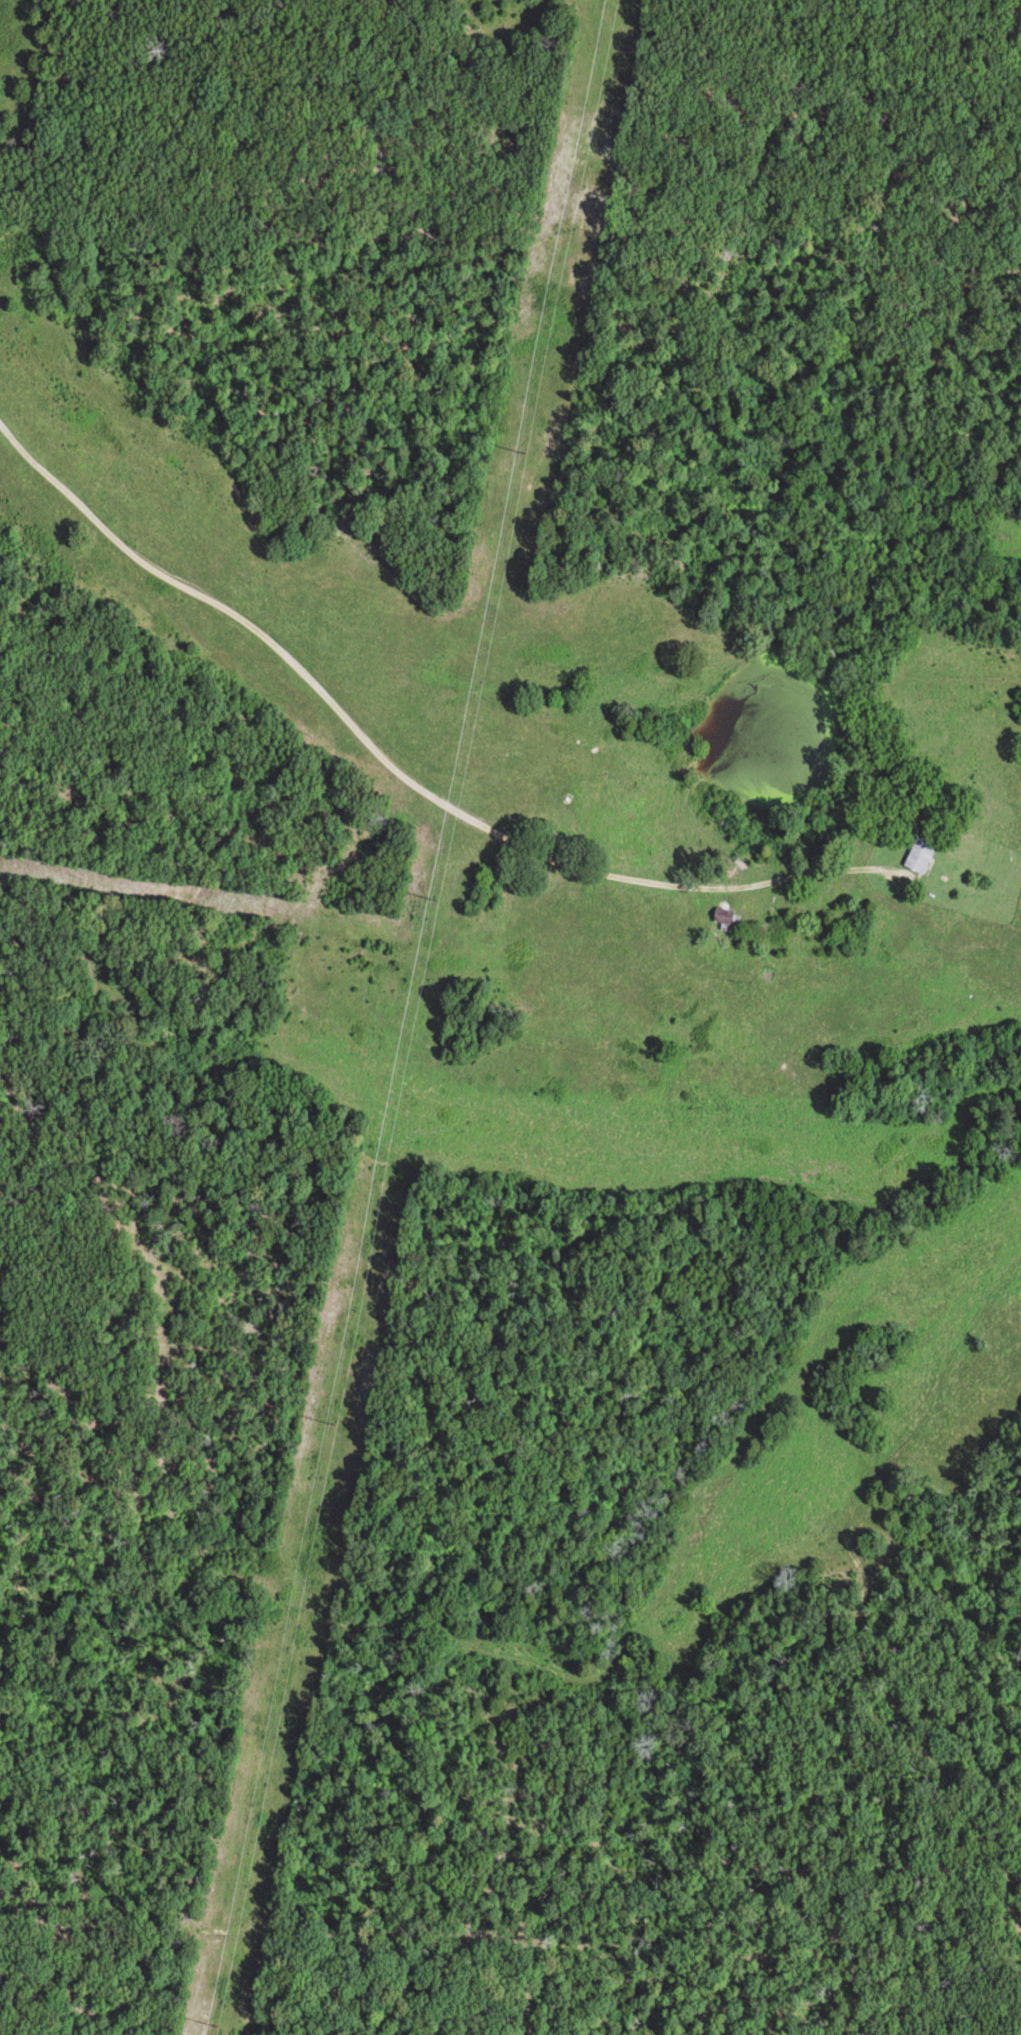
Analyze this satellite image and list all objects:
power tower: (524, 454)
road: (437, 764)
building: (925, 855)
power tower: (434, 905)
power tower: (333, 1427)
power tower: (214, 2028)

